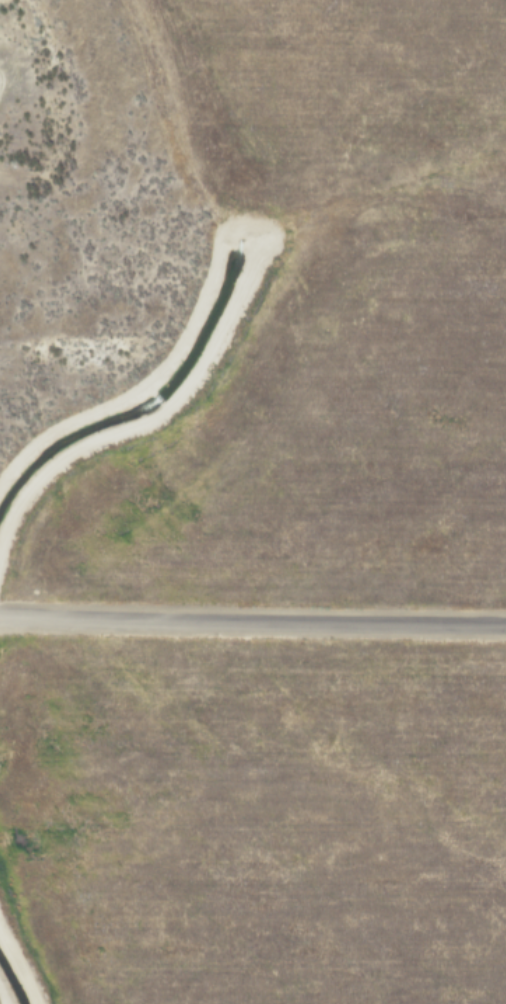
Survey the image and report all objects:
road: (253, 619)

